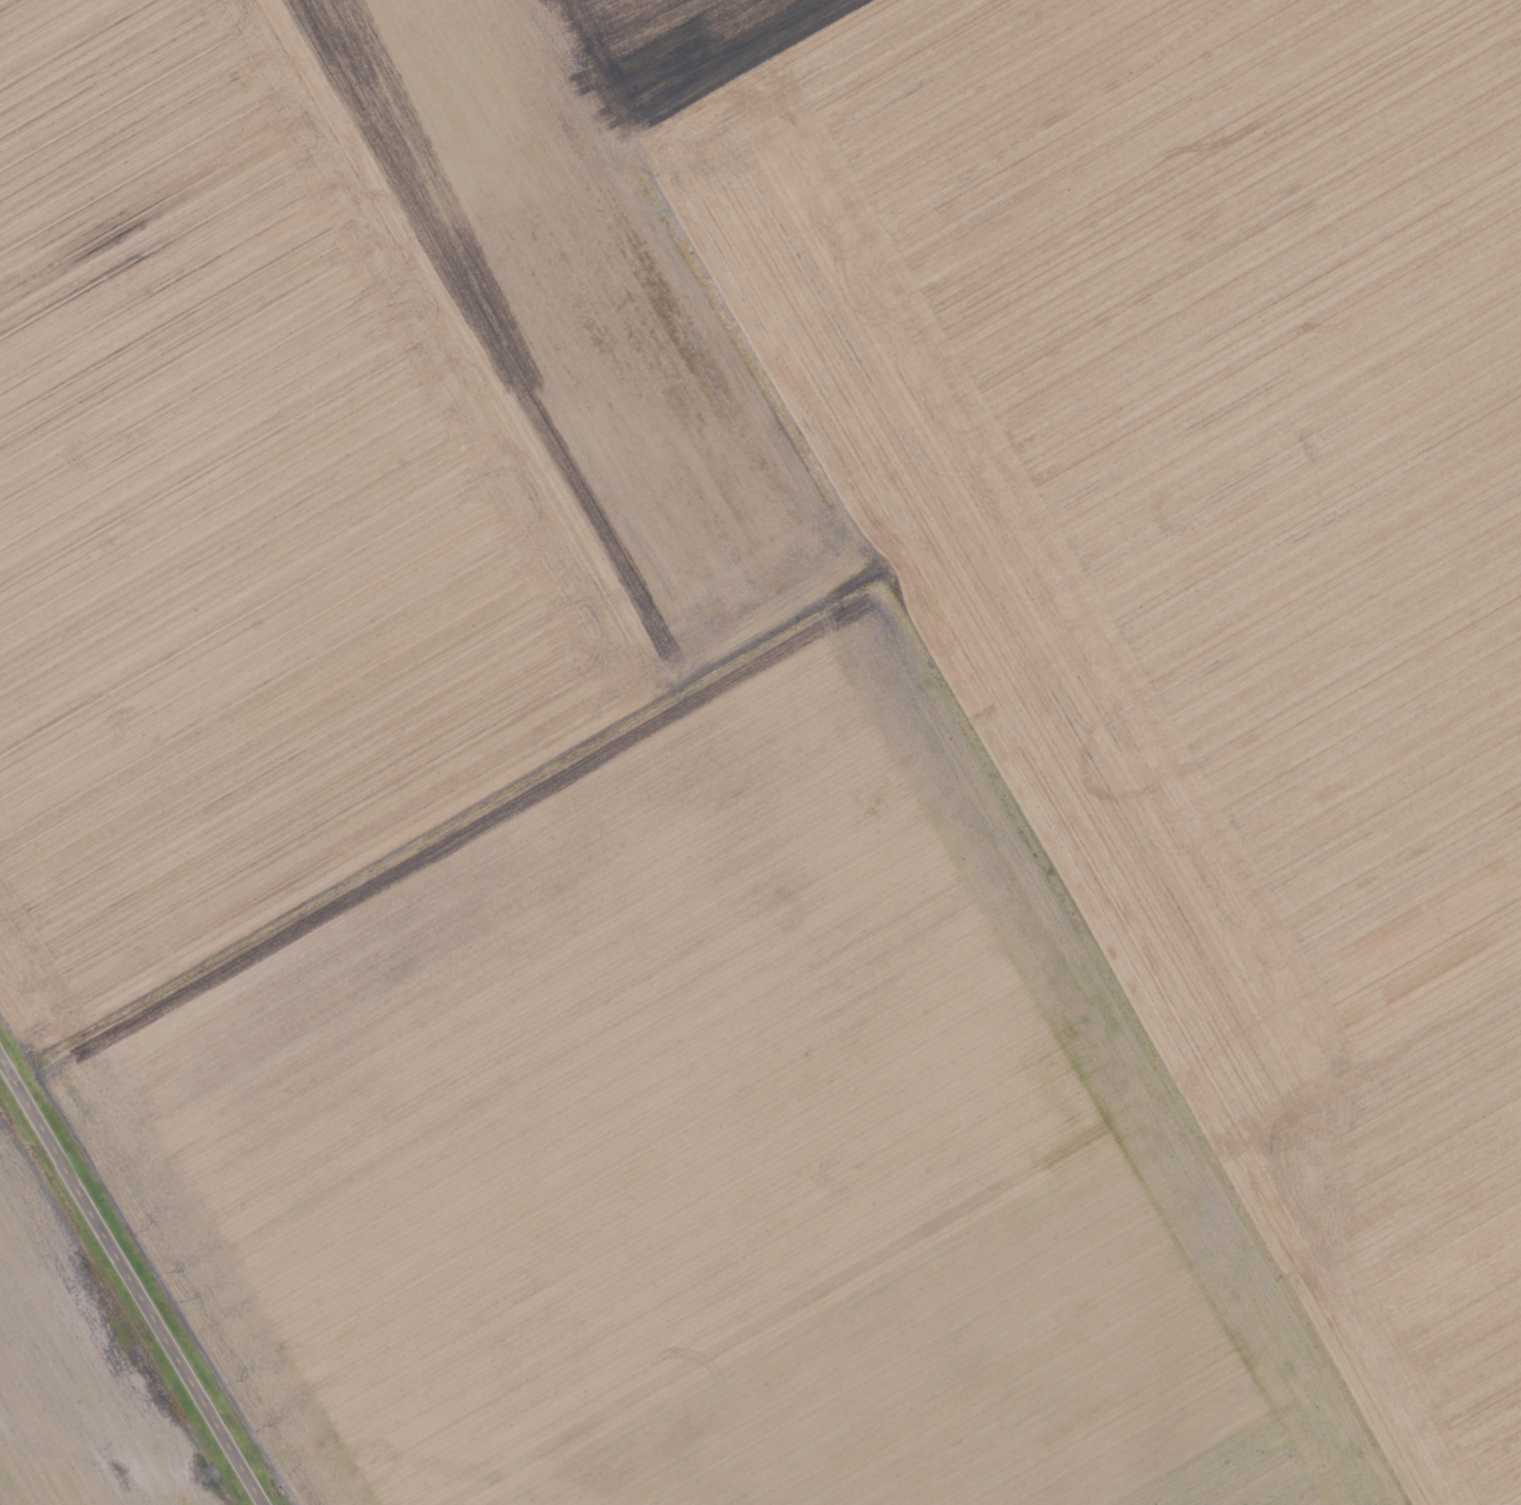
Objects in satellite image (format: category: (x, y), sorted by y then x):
road: (989, 749)
road: (441, 806)
road: (132, 1280)

